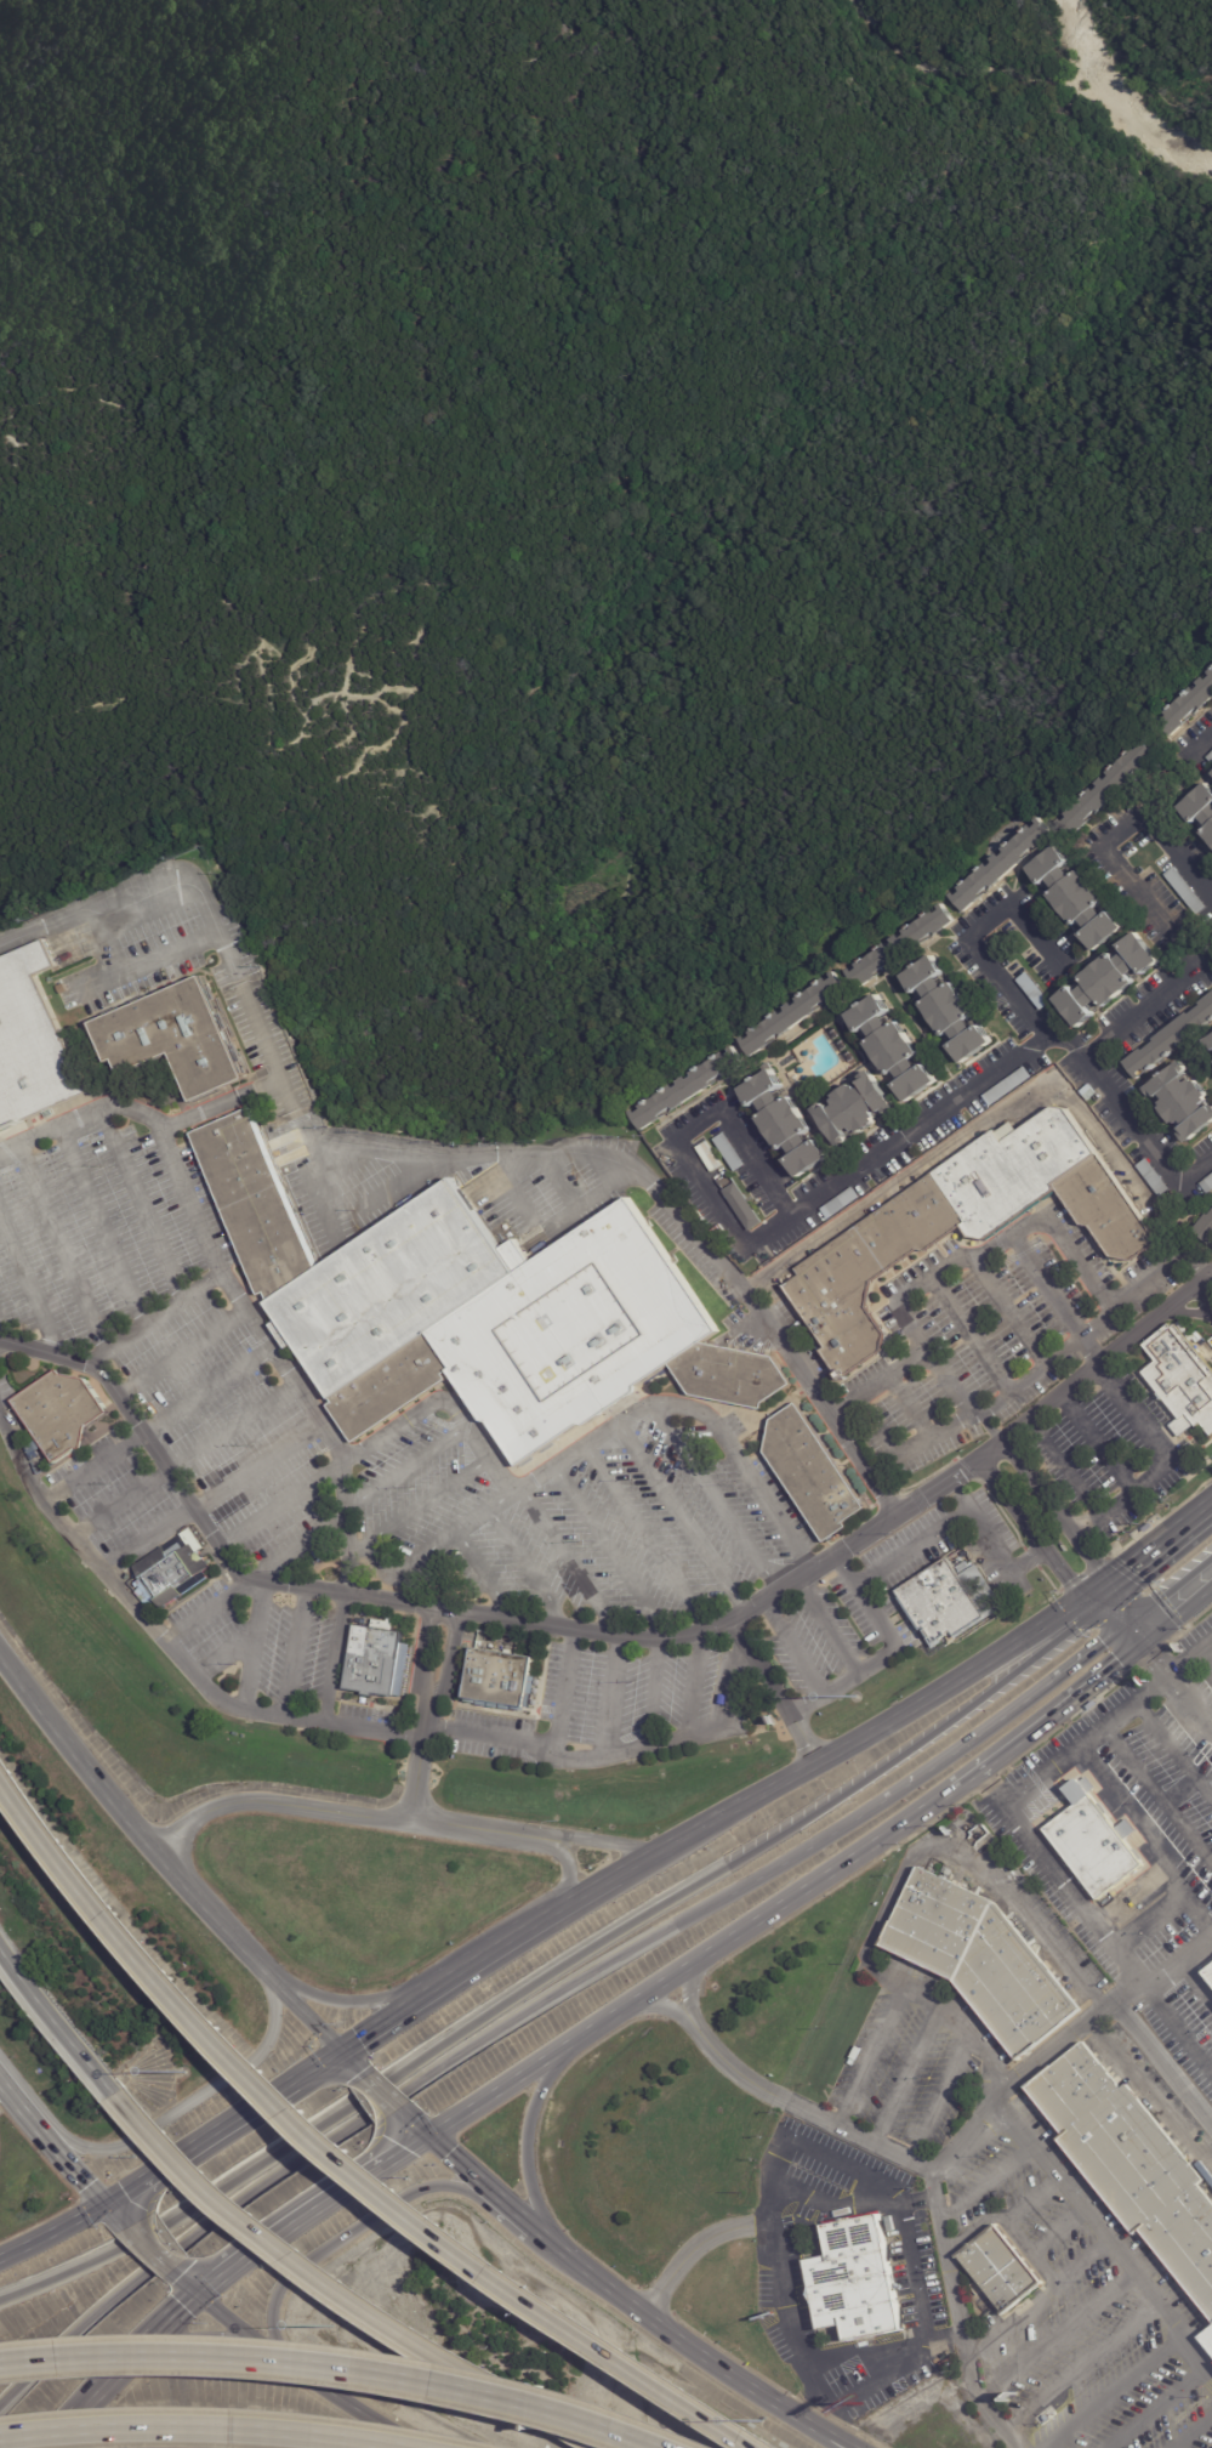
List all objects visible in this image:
park: (582, 484)
building: (1191, 706)
road: (1202, 743)
building: (1211, 757)
building: (1119, 784)
building: (1201, 806)
road: (1100, 845)
building: (1007, 865)
building: (1188, 891)
building: (1079, 899)
road: (87, 911)
road: (974, 931)
road: (106, 943)
building: (904, 947)
road: (148, 961)
building: (1108, 979)
building: (1036, 990)
road: (1146, 1005)
building: (951, 1010)
building: (795, 1016)
building: (180, 1039)
building: (1172, 1040)
building: (1211, 1040)
building: (33, 1041)
building: (895, 1050)
road: (1014, 1053)
building: (1009, 1086)
building: (688, 1089)
building: (1184, 1101)
road: (223, 1103)
building: (859, 1108)
road: (80, 1114)
building: (789, 1125)
road: (676, 1138)
building: (732, 1152)
road: (544, 1154)
building: (1014, 1170)
road: (505, 1172)
building: (1156, 1177)
road: (308, 1178)
road: (556, 1183)
road: (398, 1186)
building: (1208, 1186)
road: (514, 1202)
road: (591, 1203)
building: (842, 1204)
road: (136, 1205)
building: (744, 1206)
building: (1108, 1211)
road: (97, 1227)
building: (1205, 1228)
building: (778, 1248)
road: (57, 1249)
road: (973, 1260)
road: (1161, 1268)
building: (869, 1272)
road: (1043, 1285)
road: (28, 1291)
building: (477, 1308)
road: (1008, 1312)
road: (153, 1319)
road: (968, 1334)
road: (2, 1337)
road: (181, 1353)
road: (1106, 1353)
road: (1028, 1375)
building: (1182, 1379)
road: (876, 1382)
road: (206, 1388)
road: (907, 1405)
road: (454, 1409)
building: (61, 1415)
road: (232, 1429)
road: (933, 1433)
road: (884, 1439)
road: (1094, 1441)
road: (1167, 1461)
road: (95, 1465)
road: (1063, 1466)
road: (254, 1467)
road: (405, 1470)
building: (812, 1472)
road: (711, 1498)
road: (124, 1501)
road: (426, 1504)
road: (279, 1505)
road: (1055, 1515)
road: (677, 1520)
road: (958, 1520)
road: (199, 1522)
road: (345, 1523)
road: (869, 1532)
road: (1032, 1532)
road: (144, 1537)
road: (642, 1538)
road: (437, 1546)
road: (297, 1549)
road: (353, 1551)
road: (607, 1554)
road: (1155, 1556)
road: (565, 1562)
road: (525, 1571)
building: (173, 1572)
road: (478, 1580)
road: (1168, 1590)
traffic signals: (1099, 1598)
building: (941, 1602)
road: (133, 1606)
road: (206, 1612)
road: (1111, 1612)
road: (1176, 1614)
traffic signals: (1125, 1626)
road: (824, 1629)
road: (1132, 1635)
road: (679, 1637)
road: (886, 1642)
road: (249, 1643)
traffic signals: (1140, 1645)
road: (1207, 1651)
road: (292, 1652)
road: (222, 1653)
road: (1190, 1654)
road: (330, 1657)
road: (1154, 1658)
building: (376, 1663)
road: (795, 1663)
road: (421, 1672)
road: (445, 1677)
building: (500, 1680)
road: (721, 1680)
road: (689, 1686)
road: (562, 1691)
road: (649, 1693)
road: (608, 1696)
street lamp: (855, 1697)
road: (1190, 1699)
building: (726, 1700)
road: (1123, 1706)
road: (1014, 1708)
road: (370, 1728)
road: (1028, 1734)
road: (486, 1737)
road: (859, 1740)
road: (633, 1748)
road: (1172, 1749)
road: (76, 1755)
road: (415, 1783)
road: (1156, 1793)
road: (1117, 1795)
road: (343, 1816)
road: (827, 1834)
road: (605, 1845)
building: (1094, 1848)
road: (905, 1873)
road: (567, 1879)
road: (1062, 1879)
road: (582, 1898)
road: (209, 1908)
road: (1150, 1918)
road: (490, 1956)
building: (983, 1960)
road: (559, 1965)
building: (1208, 1967)
road: (668, 1972)
building: (1208, 1975)
road: (1194, 1987)
road: (342, 2001)
road: (303, 2009)
road: (55, 2023)
road: (391, 2023)
road: (1177, 2029)
road: (962, 2030)
traffic signals: (347, 2052)
road: (353, 2058)
road: (330, 2063)
road: (1163, 2063)
road: (906, 2075)
road: (381, 2084)
road: (194, 2098)
road: (939, 2101)
road: (19, 2111)
road: (408, 2111)
road: (360, 2125)
road: (423, 2125)
traffic signals: (432, 2134)
road: (210, 2139)
road: (531, 2139)
road: (338, 2152)
road: (941, 2163)
building: (1132, 2165)
road: (72, 2169)
road: (472, 2171)
road: (985, 2182)
road: (890, 2188)
road: (933, 2188)
road: (1030, 2202)
traffic signals: (107, 2204)
road: (888, 2205)
road: (331, 2206)
road: (113, 2210)
road: (1093, 2222)
road: (359, 2228)
road: (536, 2228)
road: (133, 2231)
road: (53, 2232)
road: (1057, 2233)
road: (165, 2260)
road: (1082, 2264)
road: (1041, 2267)
building: (998, 2268)
road: (602, 2279)
building: (854, 2279)
road: (194, 2287)
road: (220, 2289)
road: (342, 2294)
traffic signals: (207, 2299)
road: (1057, 2334)
road: (675, 2335)
building: (1208, 2339)
road: (153, 2350)
road: (1197, 2358)
road: (814, 2365)
road: (1082, 2365)
road: (329, 2368)
road: (312, 2379)
road: (864, 2386)
road: (1119, 2392)
road: (762, 2403)
road: (783, 2403)
road: (1155, 2408)
road: (74, 2424)
building: (1035, 2427)
road: (188, 2431)
road: (1191, 2431)

